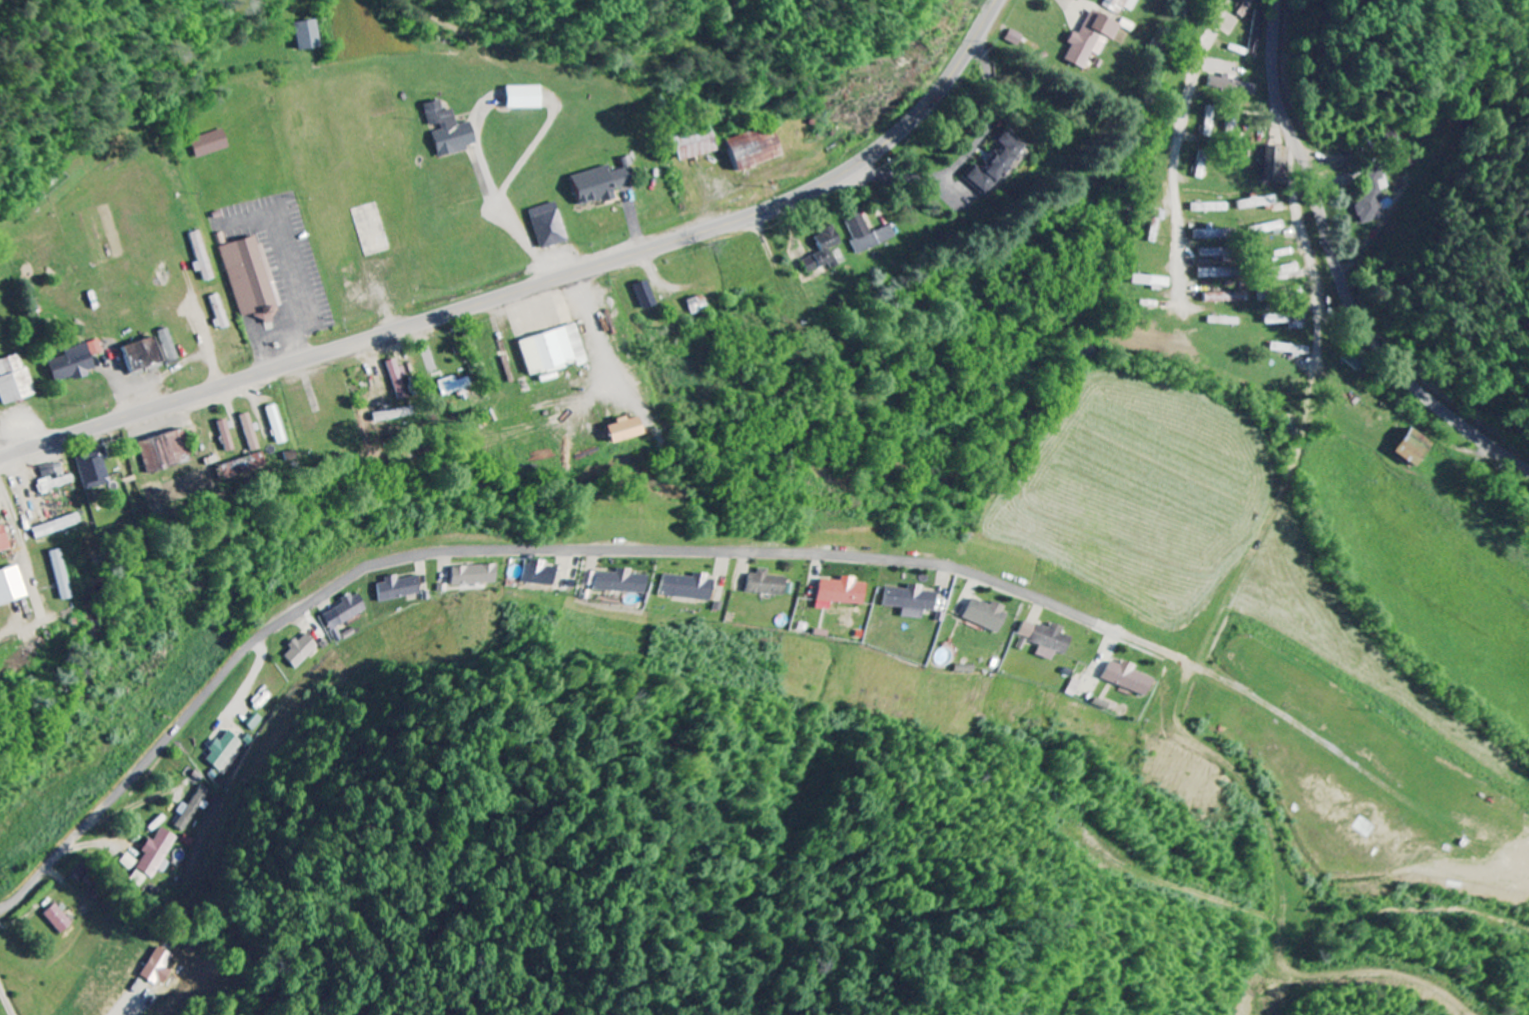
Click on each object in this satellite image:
building: (1121, 5)
building: (1260, 33)
building: (307, 35)
building: (1092, 38)
building: (1245, 89)
building: (526, 97)
building: (450, 130)
building: (697, 143)
building: (212, 144)
building: (756, 148)
building: (996, 163)
building: (1275, 164)
road: (59, 181)
building: (605, 182)
building: (1373, 199)
building: (1258, 202)
building: (550, 225)
building: (1267, 228)
building: (868, 233)
building: (1209, 234)
building: (825, 251)
building: (1212, 252)
building: (202, 257)
building: (1284, 271)
road: (1338, 272)
building: (1216, 273)
building: (252, 277)
building: (1150, 280)
road: (538, 286)
building: (646, 295)
building: (1226, 297)
building: (698, 305)
building: (1226, 320)
building: (1287, 320)
building: (1291, 349)
building: (553, 351)
building: (151, 352)
building: (75, 362)
building: (398, 378)
building: (14, 380)
building: (455, 387)
building: (224, 430)
building: (625, 430)
building: (250, 432)
building: (1415, 448)
building: (165, 451)
building: (94, 473)
building: (54, 478)
building: (45, 514)
building: (56, 526)
building: (548, 573)
building: (60, 574)
building: (483, 575)
building: (599, 578)
building: (630, 582)
building: (771, 583)
building: (10, 586)
building: (695, 587)
building: (405, 588)
building: (846, 591)
building: (915, 601)
building: (351, 611)
building: (991, 615)
building: (1052, 639)
building: (305, 651)
building: (1134, 678)
road: (198, 706)
building: (227, 750)
building: (194, 808)
building: (157, 852)
building: (130, 861)
building: (81, 872)
building: (59, 918)
building: (159, 964)
road: (8, 996)

